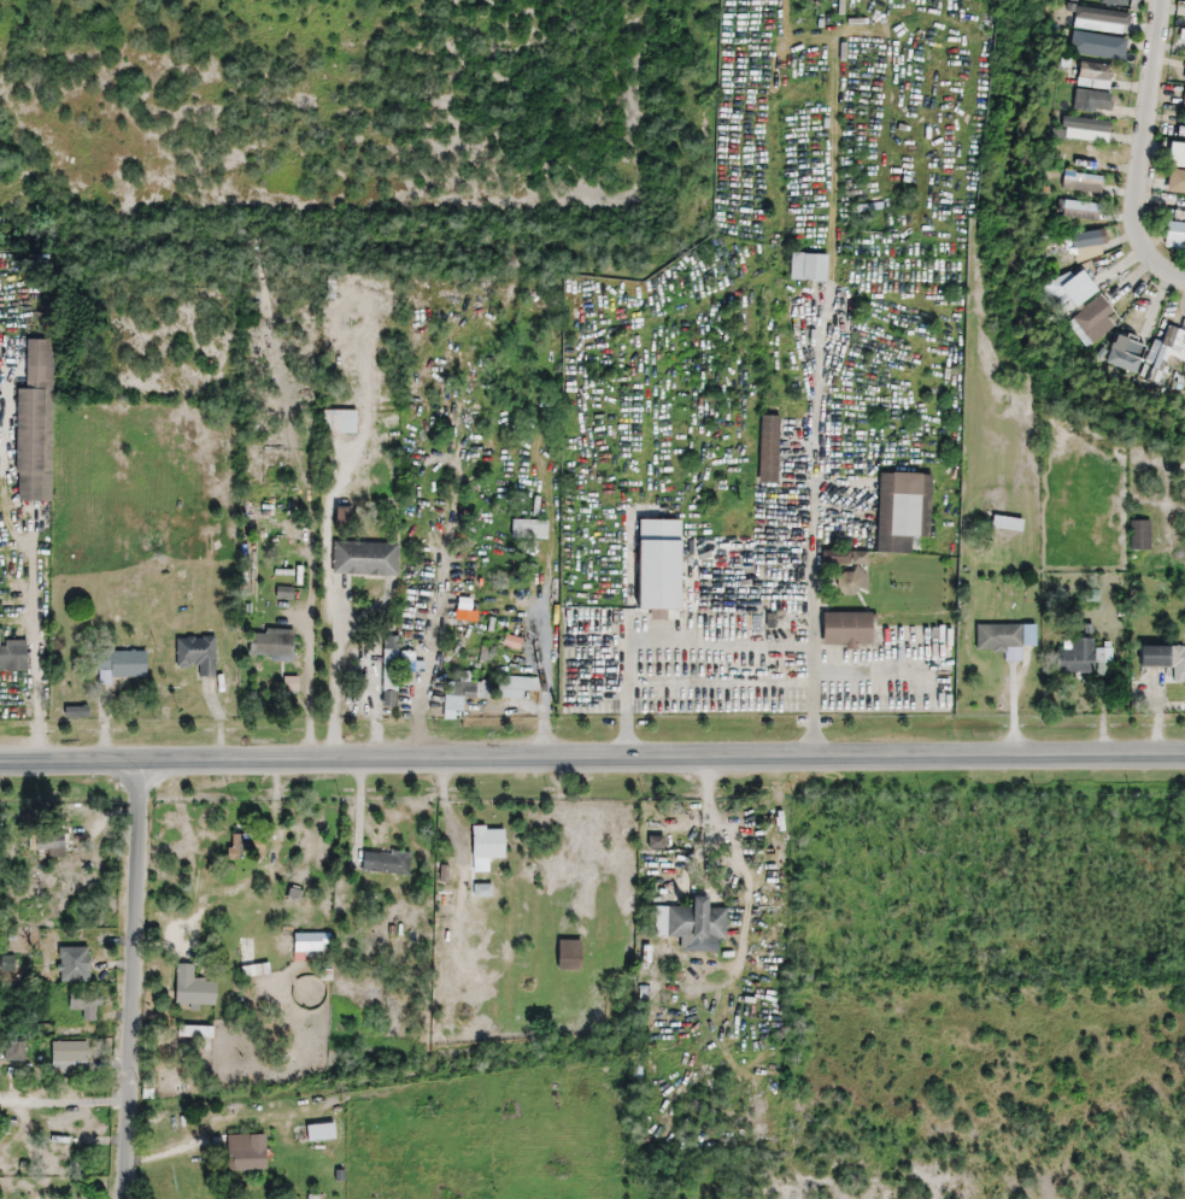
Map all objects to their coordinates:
building: (1113, 2)
building: (1101, 16)
building: (1179, 46)
building: (1096, 51)
building: (1093, 76)
building: (1091, 101)
building: (1184, 106)
building: (1085, 124)
building: (1180, 131)
road: (1139, 149)
building: (1177, 153)
building: (1081, 182)
building: (1178, 186)
building: (1078, 210)
building: (1178, 214)
building: (1175, 234)
building: (1085, 246)
building: (808, 268)
building: (1085, 272)
building: (1092, 319)
building: (1144, 334)
building: (1167, 349)
building: (339, 421)
building: (35, 424)
building: (768, 449)
building: (902, 511)
building: (528, 528)
building: (1139, 535)
building: (364, 558)
building: (658, 566)
building: (849, 570)
building: (786, 621)
building: (845, 630)
building: (999, 640)
building: (512, 643)
building: (270, 645)
building: (196, 654)
building: (12, 656)
building: (1079, 657)
building: (1163, 660)
building: (118, 665)
building: (397, 669)
building: (289, 684)
building: (517, 687)
building: (463, 695)
road: (592, 759)
building: (483, 839)
building: (46, 842)
building: (235, 852)
building: (386, 863)
building: (479, 898)
building: (696, 923)
building: (74, 938)
building: (474, 939)
building: (311, 946)
building: (72, 964)
road: (134, 981)
building: (192, 989)
building: (86, 1005)
building: (195, 1032)
building: (68, 1056)
building: (321, 1133)
building: (246, 1152)

